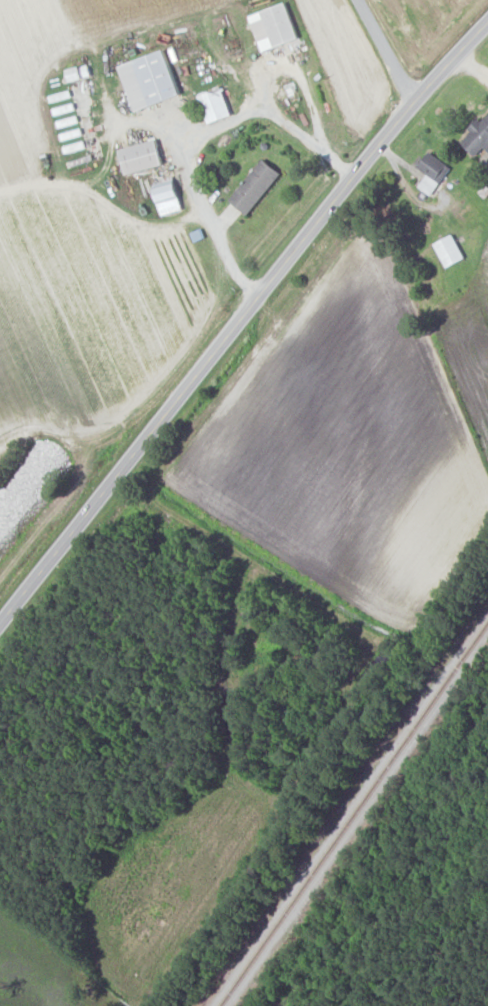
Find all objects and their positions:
building: (274, 25)
road: (384, 51)
building: (79, 71)
road: (468, 73)
road: (300, 75)
building: (150, 78)
building: (215, 103)
road: (193, 134)
building: (478, 135)
building: (142, 155)
building: (433, 171)
building: (256, 185)
building: (168, 195)
road: (242, 321)
railway: (354, 814)

